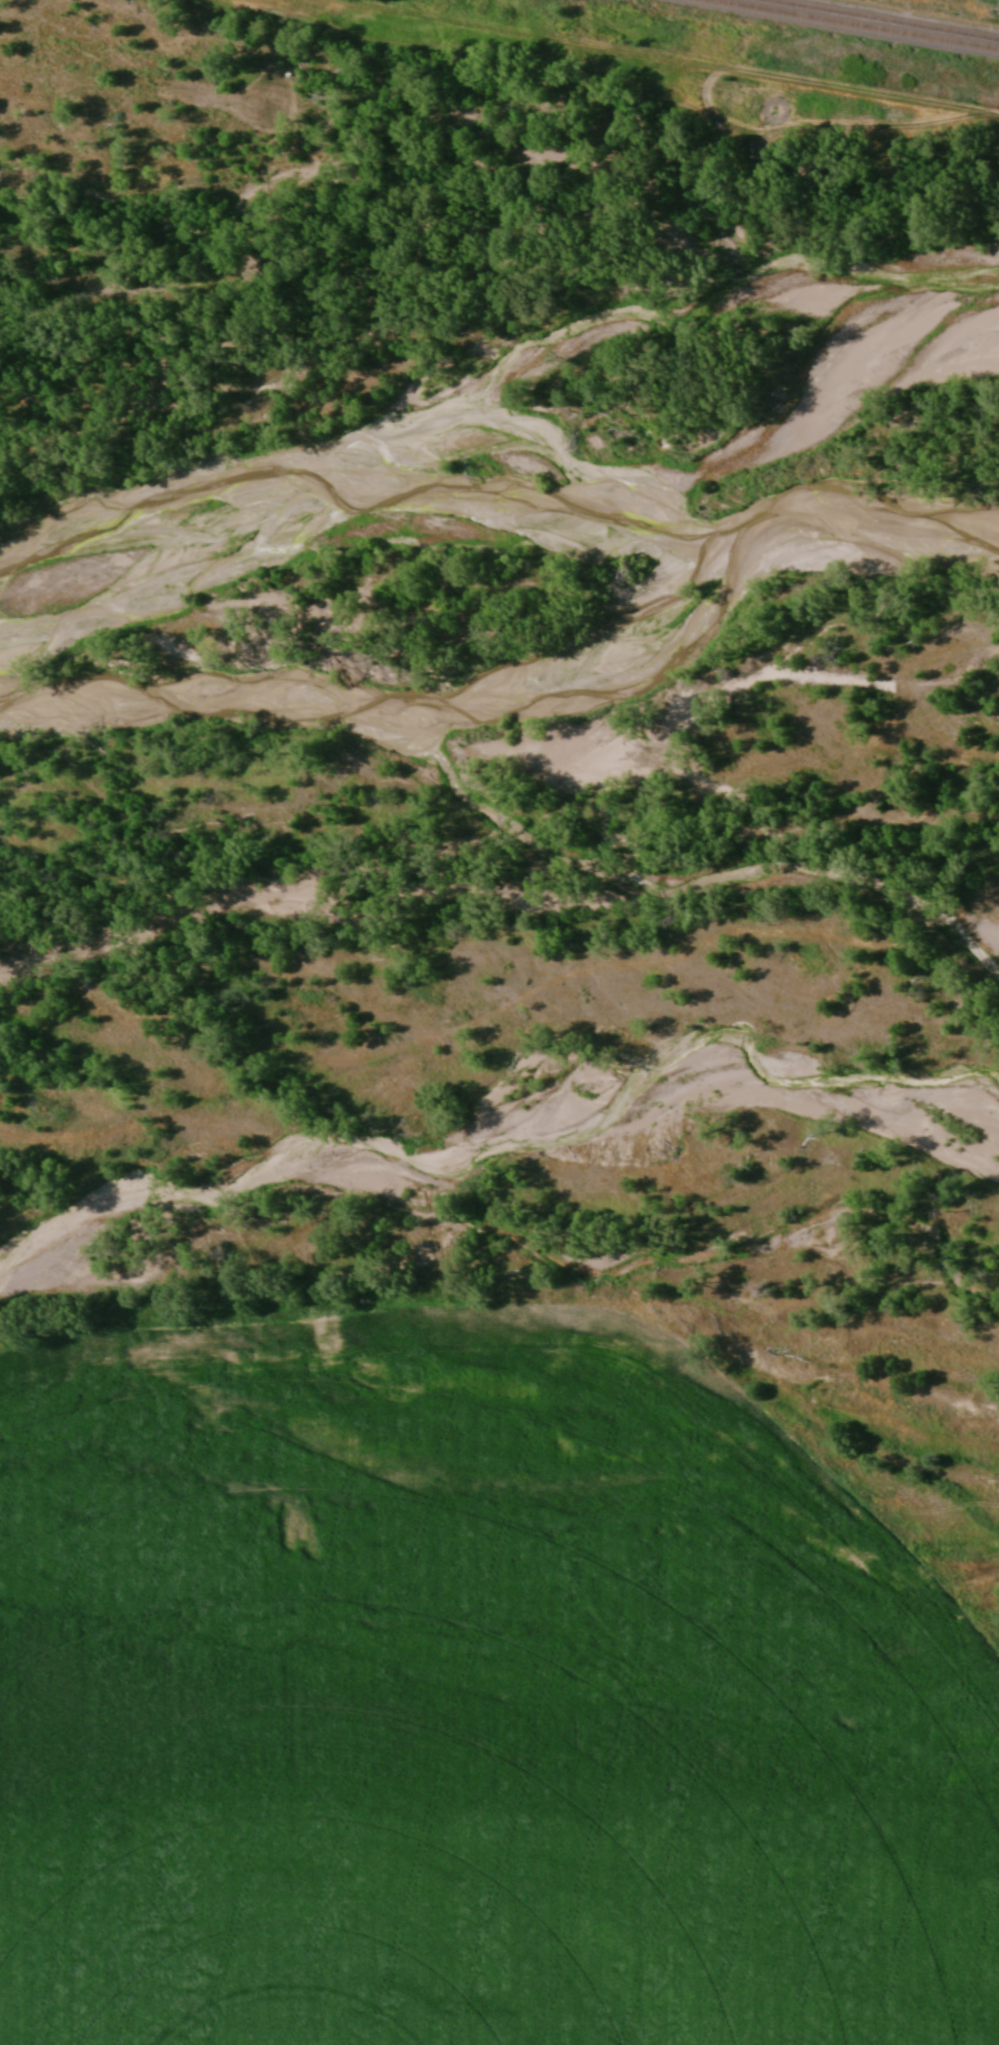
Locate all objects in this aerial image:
railway: (886, 19)
railway: (855, 25)
river: (481, 512)

